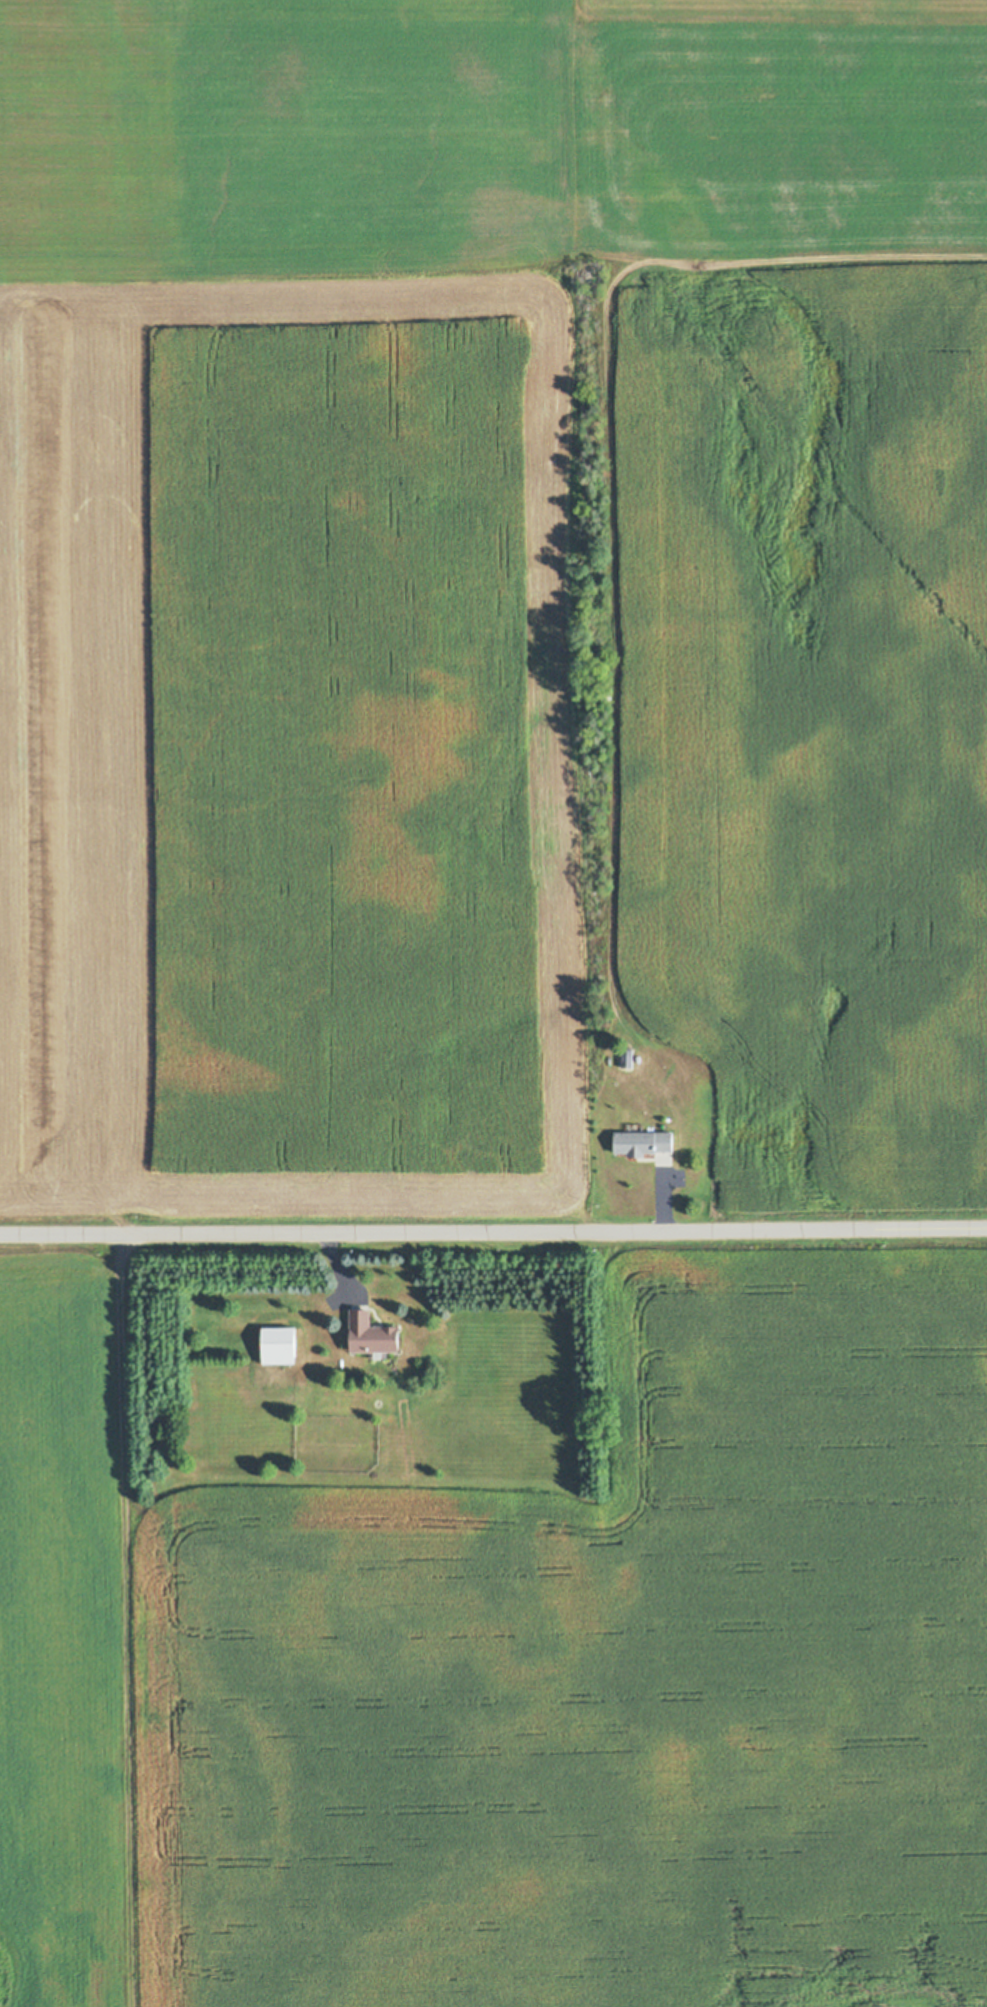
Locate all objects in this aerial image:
building: (645, 1142)
road: (663, 1196)
road: (493, 1230)
road: (334, 1258)
building: (375, 1335)
building: (281, 1345)

